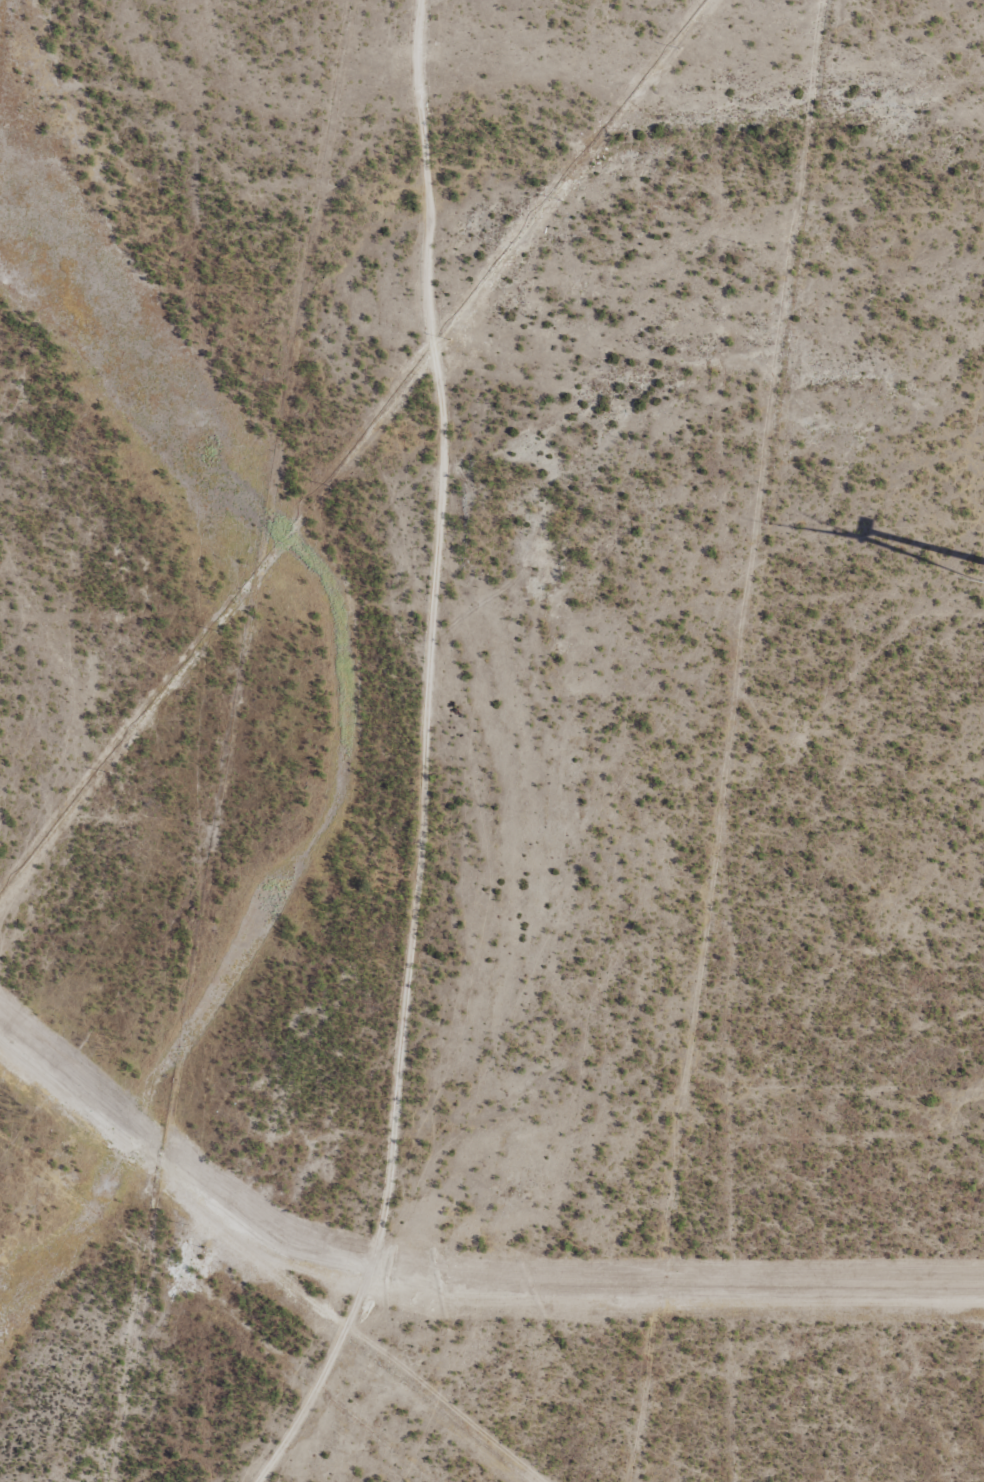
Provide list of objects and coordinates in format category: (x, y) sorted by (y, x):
road: (424, 757)

